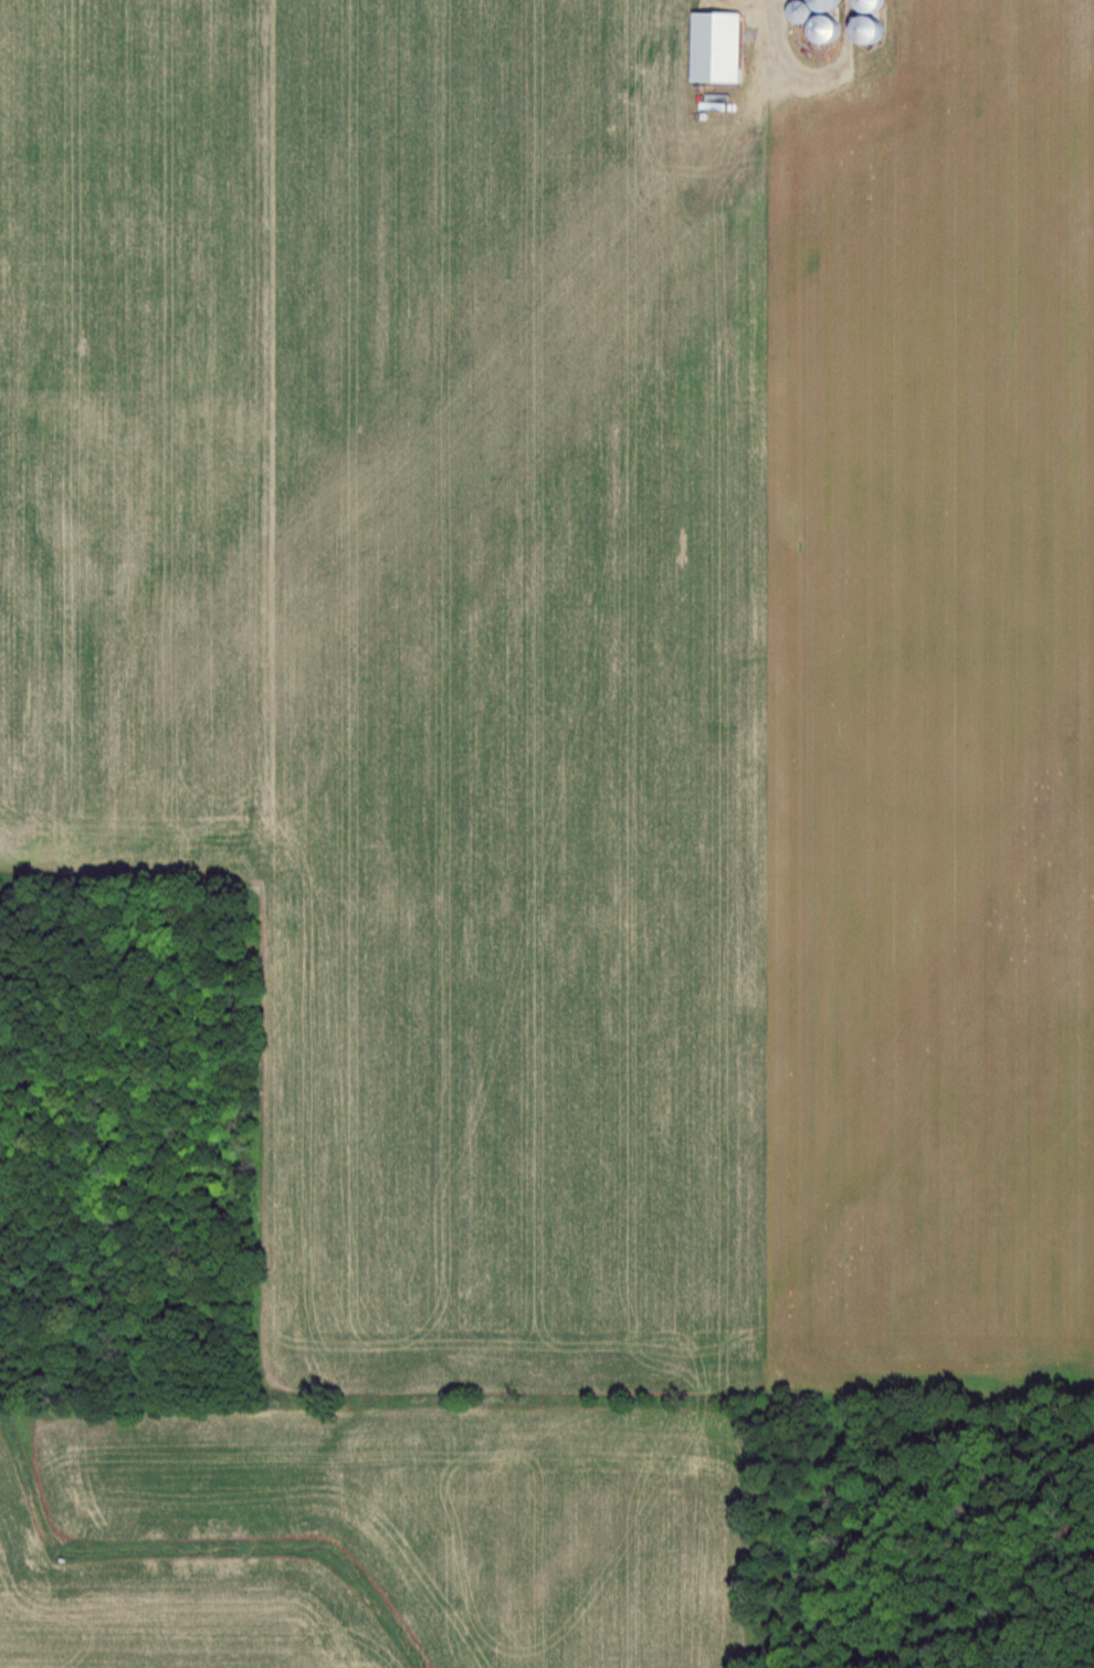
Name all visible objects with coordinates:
building: (832, 3)
building: (833, 28)
building: (874, 29)

